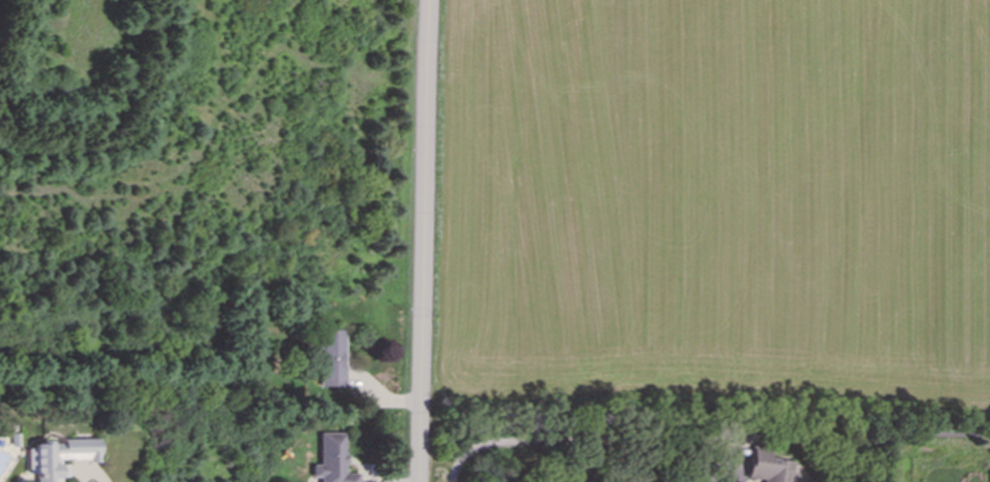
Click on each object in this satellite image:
crop: (713, 203)
road: (424, 241)
building: (332, 358)
road: (923, 435)
road: (557, 440)
park: (932, 442)
building: (58, 458)
building: (331, 460)
building: (769, 467)
road: (725, 469)
road: (90, 474)

